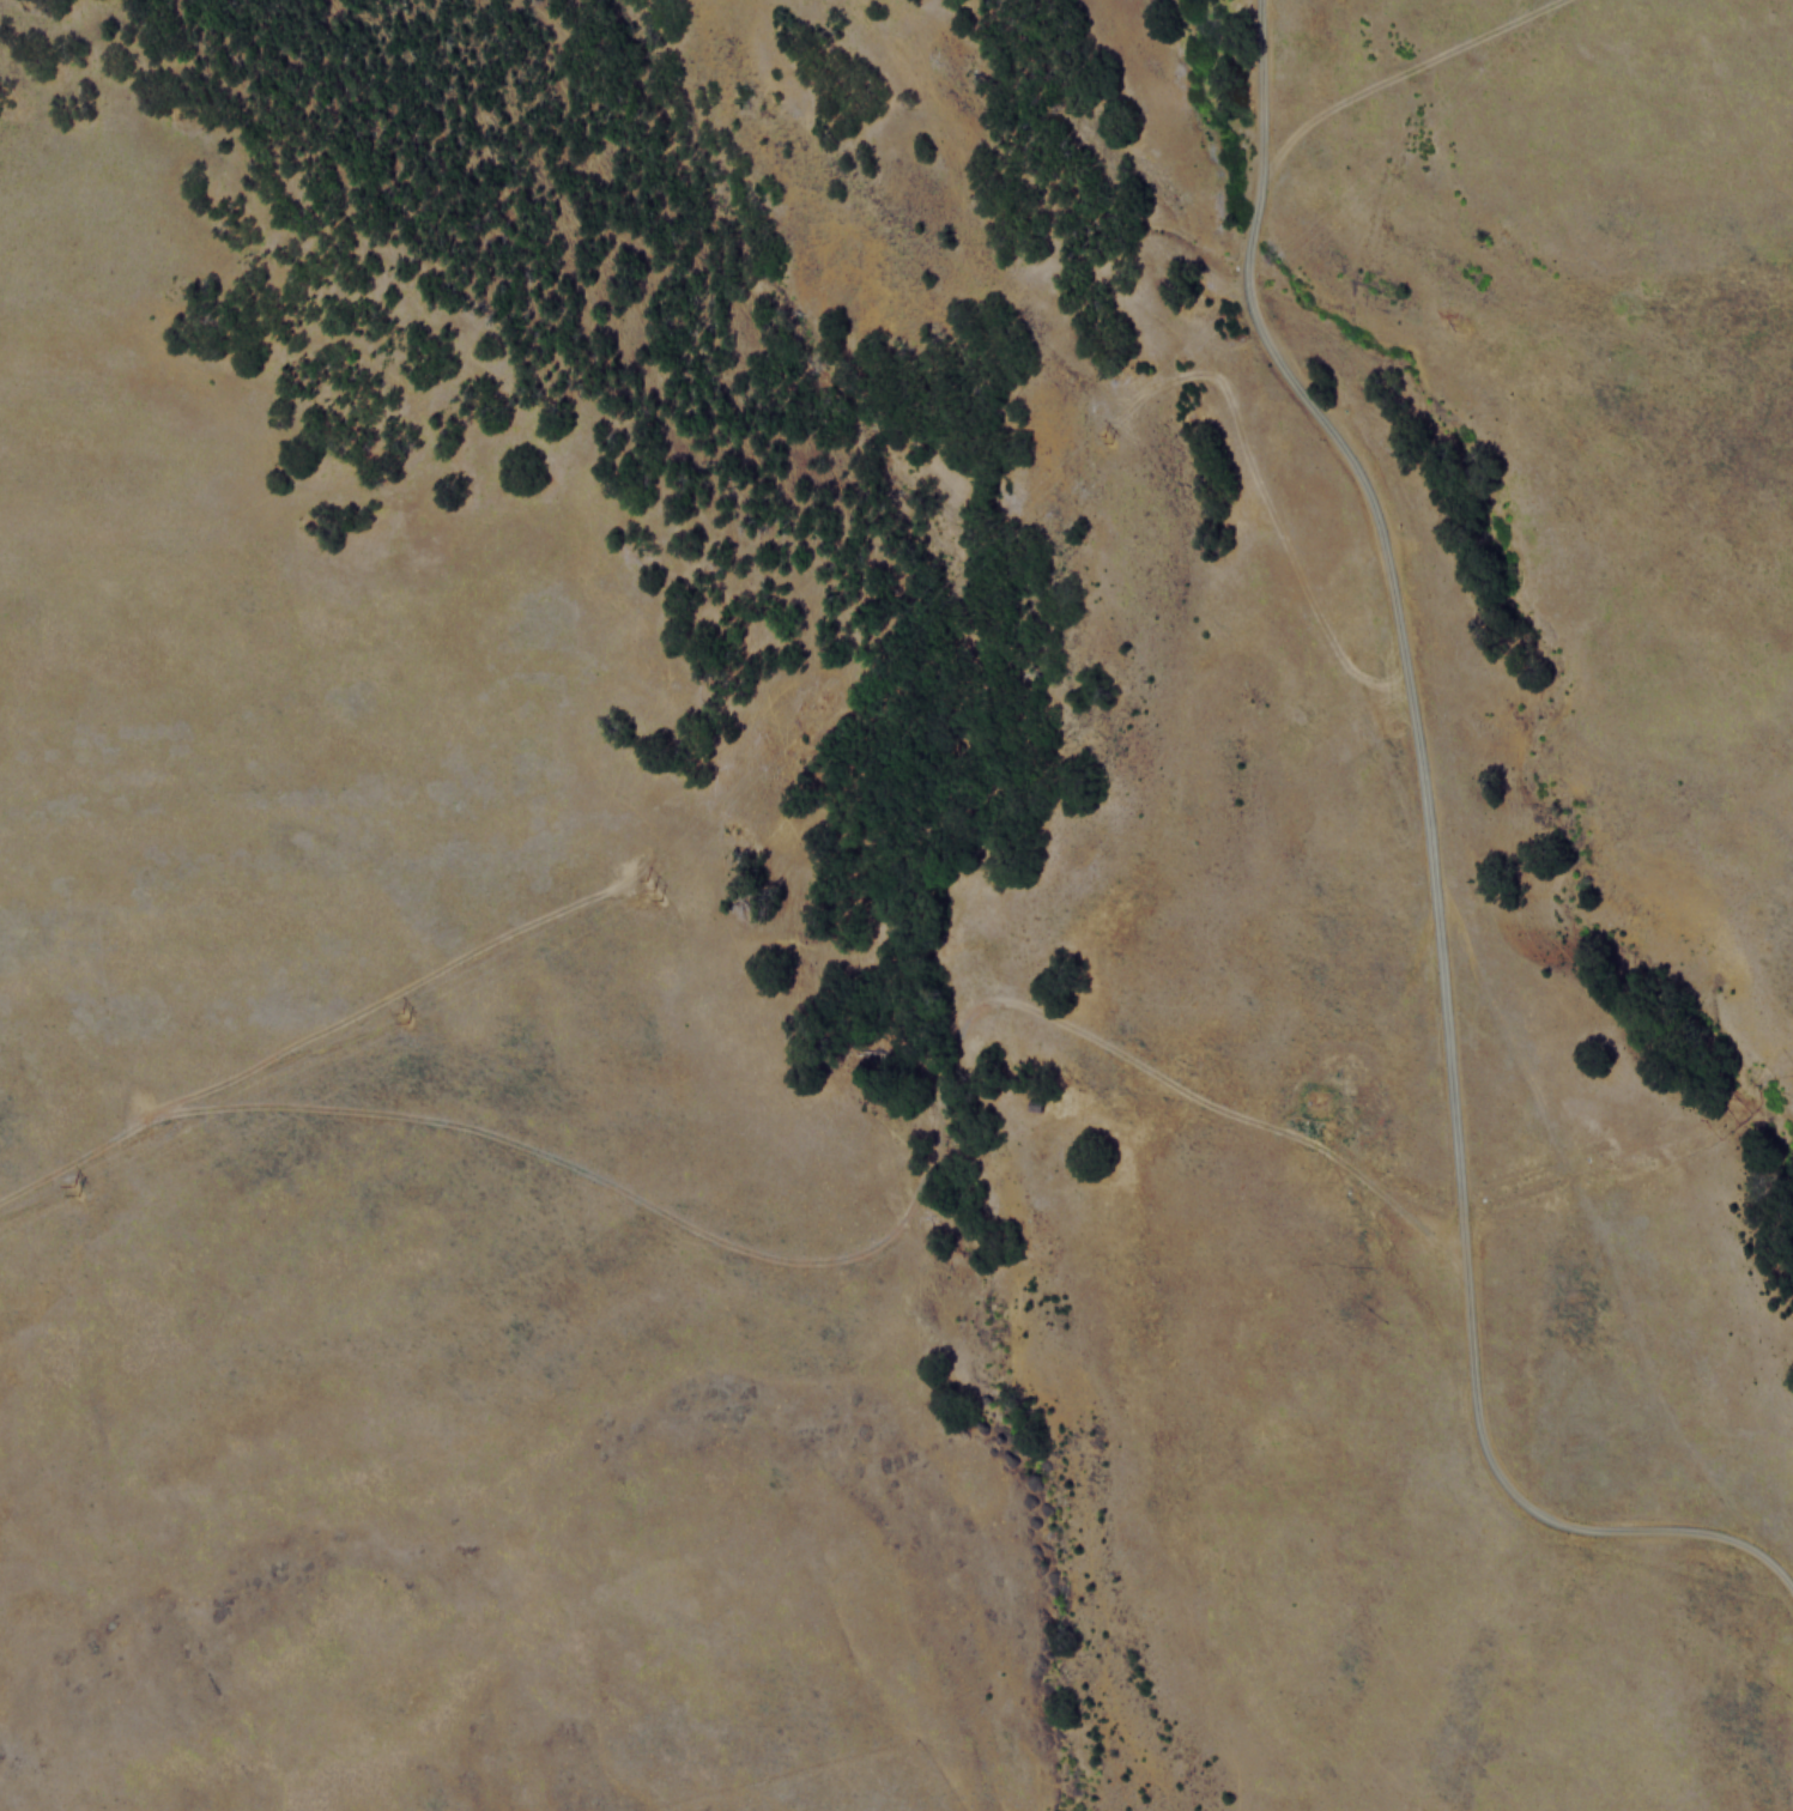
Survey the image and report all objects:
road: (1399, 73)
power tower: (1110, 438)
road: (1428, 886)
power tower: (654, 888)
power tower: (404, 1019)
building: (1031, 1103)
power tower: (72, 1193)
road: (828, 1258)

